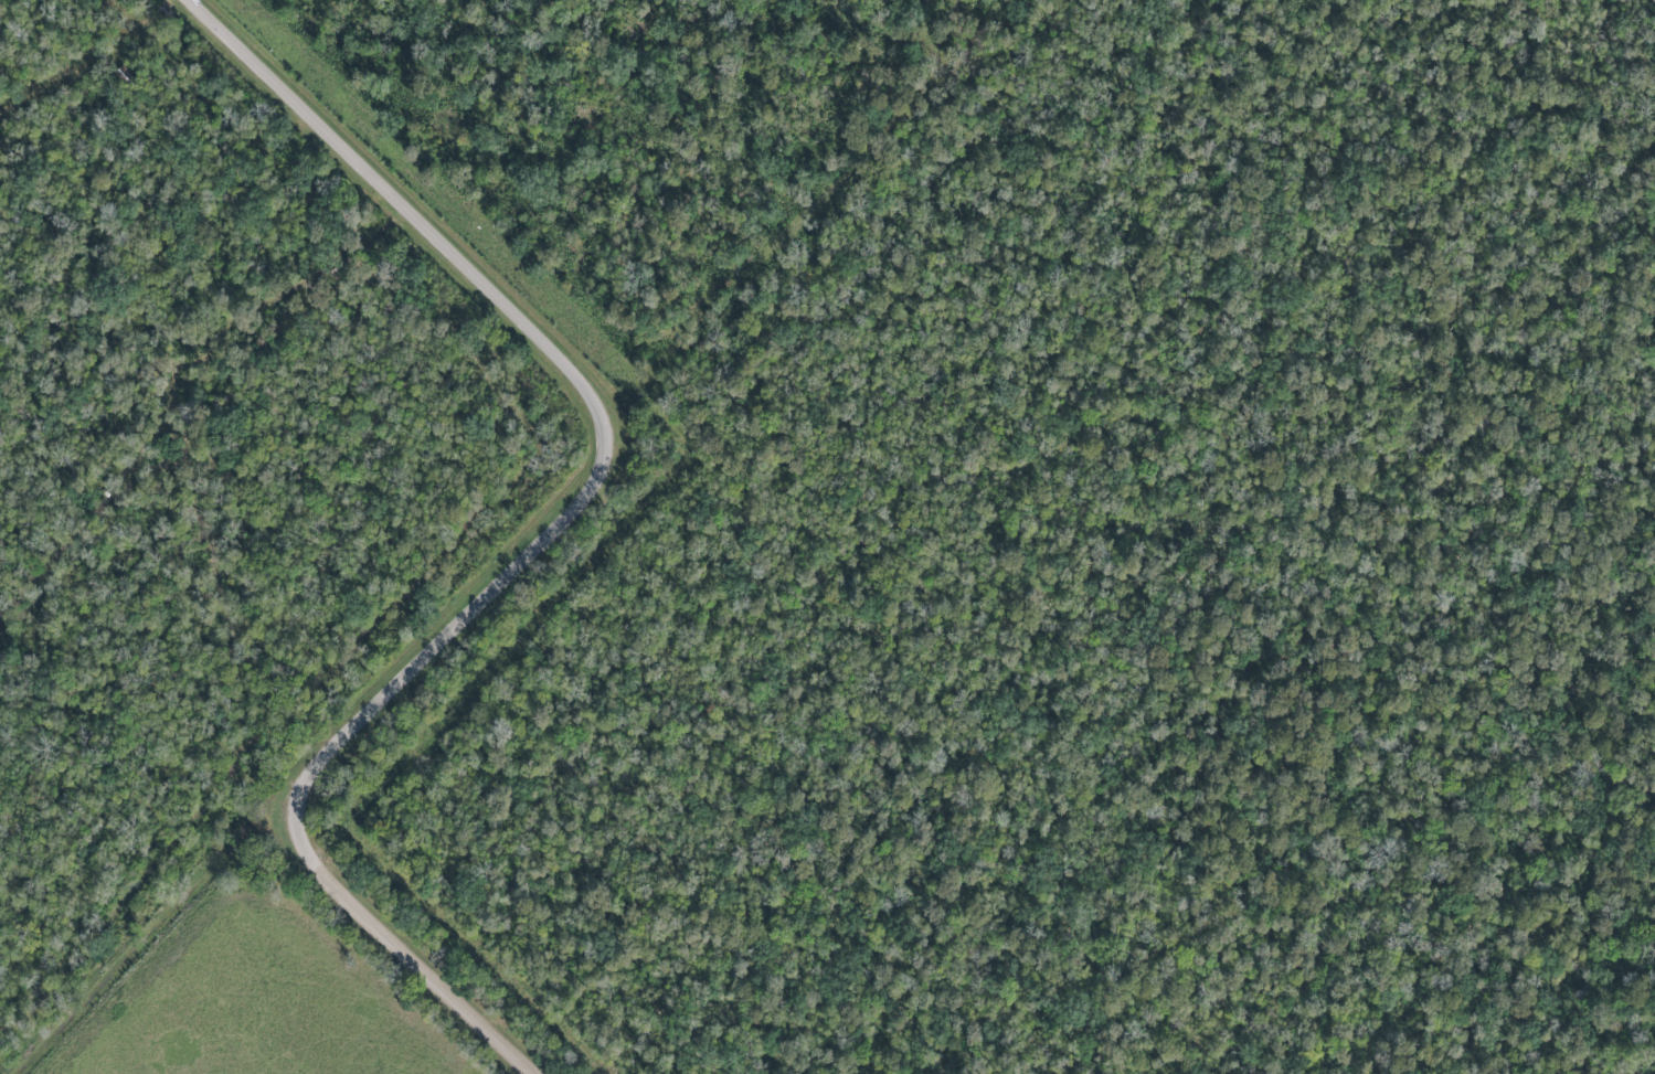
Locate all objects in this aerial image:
road: (553, 536)

